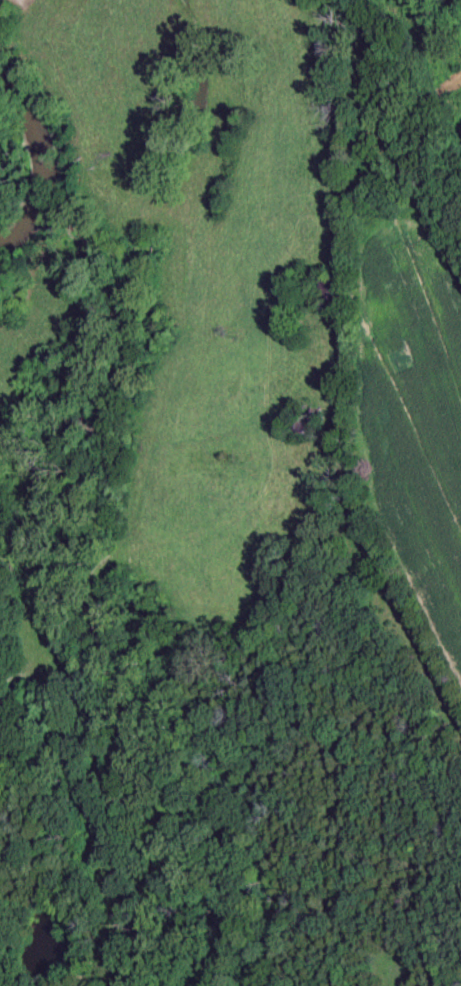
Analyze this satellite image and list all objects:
river: (37, 164)
building: (306, 425)

